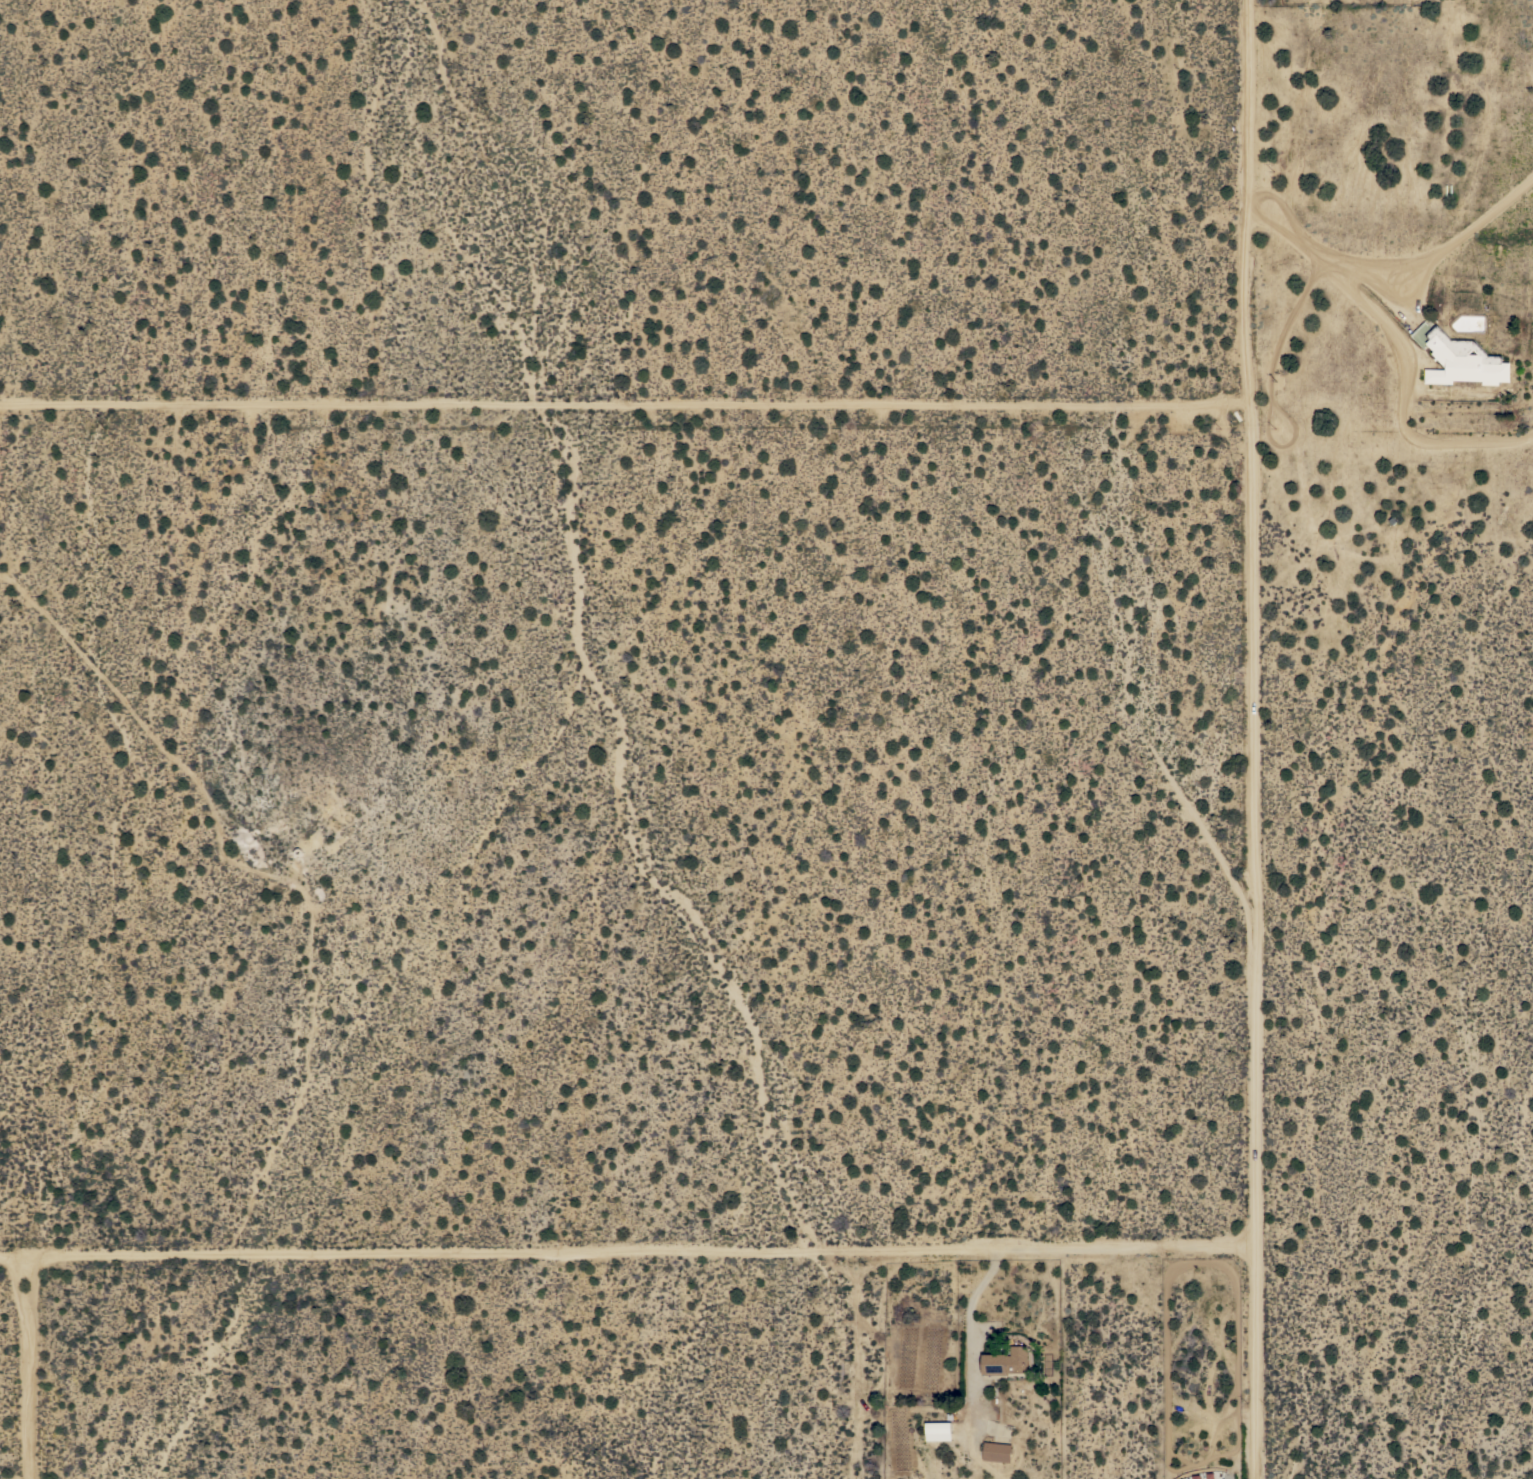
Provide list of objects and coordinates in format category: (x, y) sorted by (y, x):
road: (1401, 288)
building: (1463, 362)
road: (624, 404)
road: (1254, 739)
road: (627, 1252)
road: (974, 1293)
building: (1006, 1363)
road: (30, 1367)
building: (938, 1431)
building: (997, 1452)

